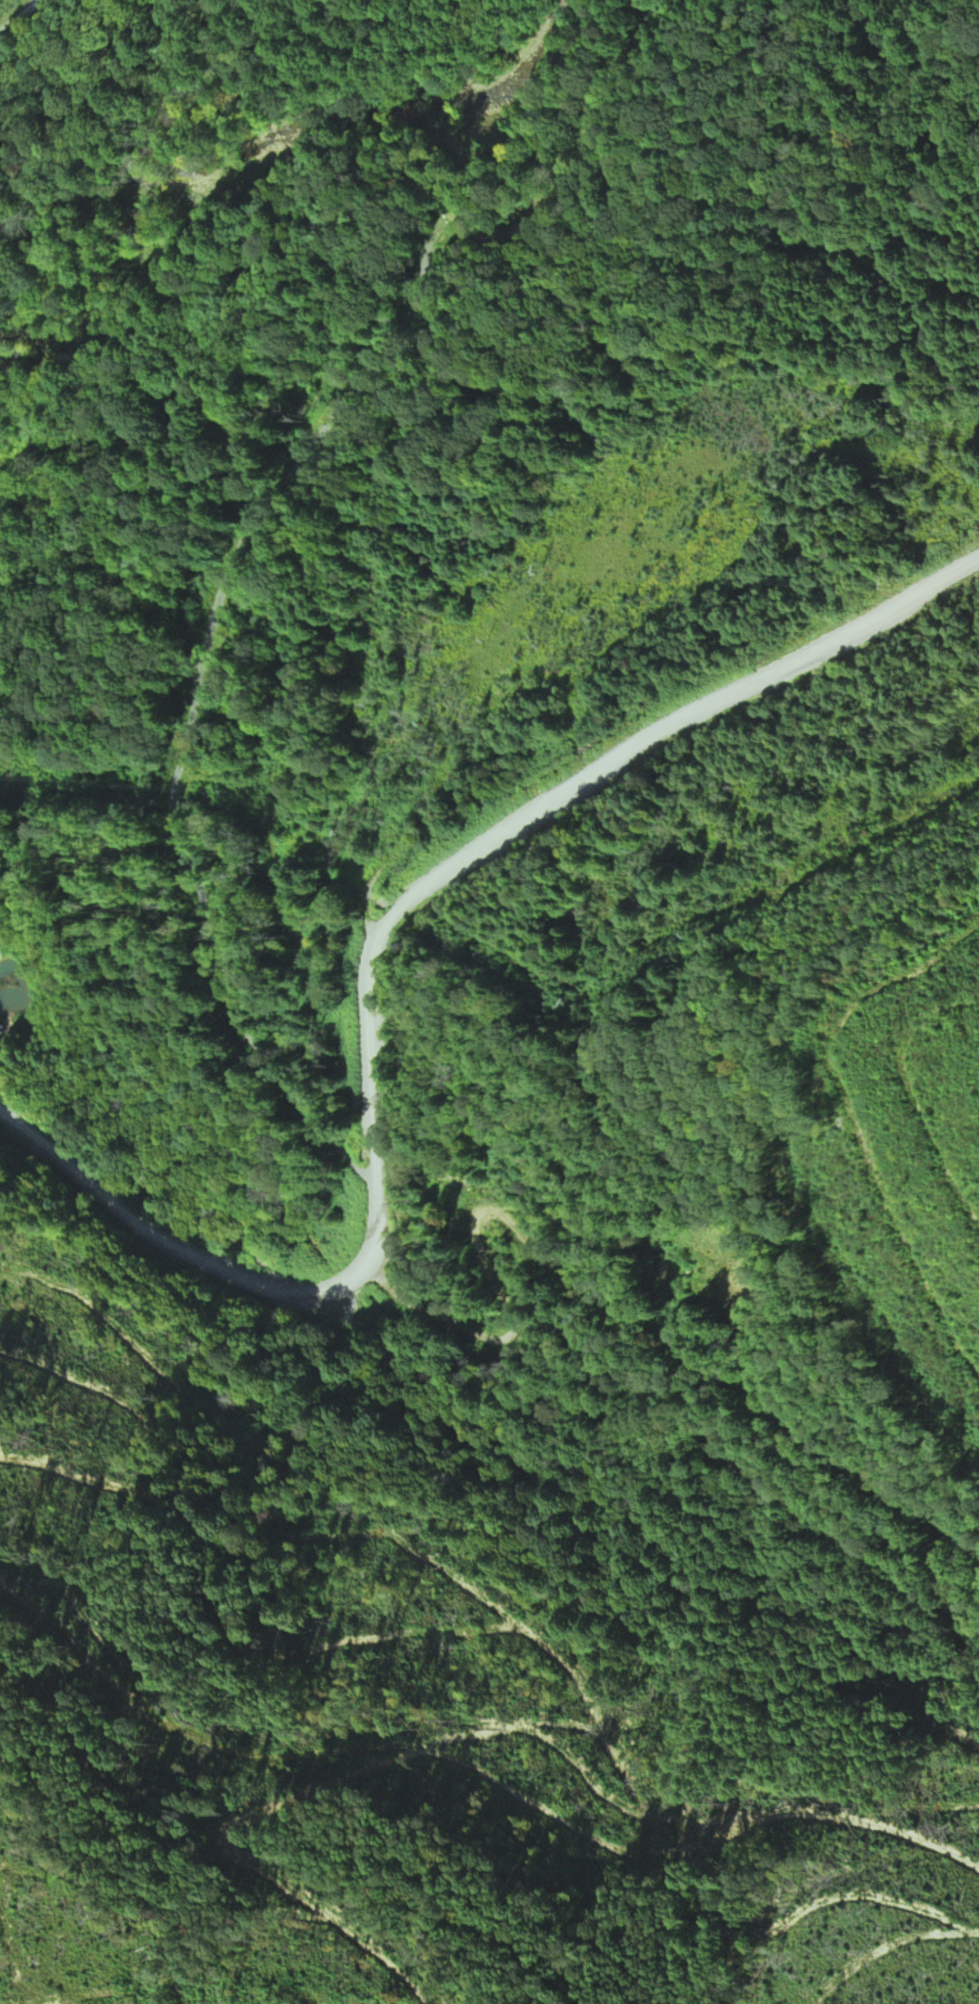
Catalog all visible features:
road: (27, 27)
road: (369, 1047)

